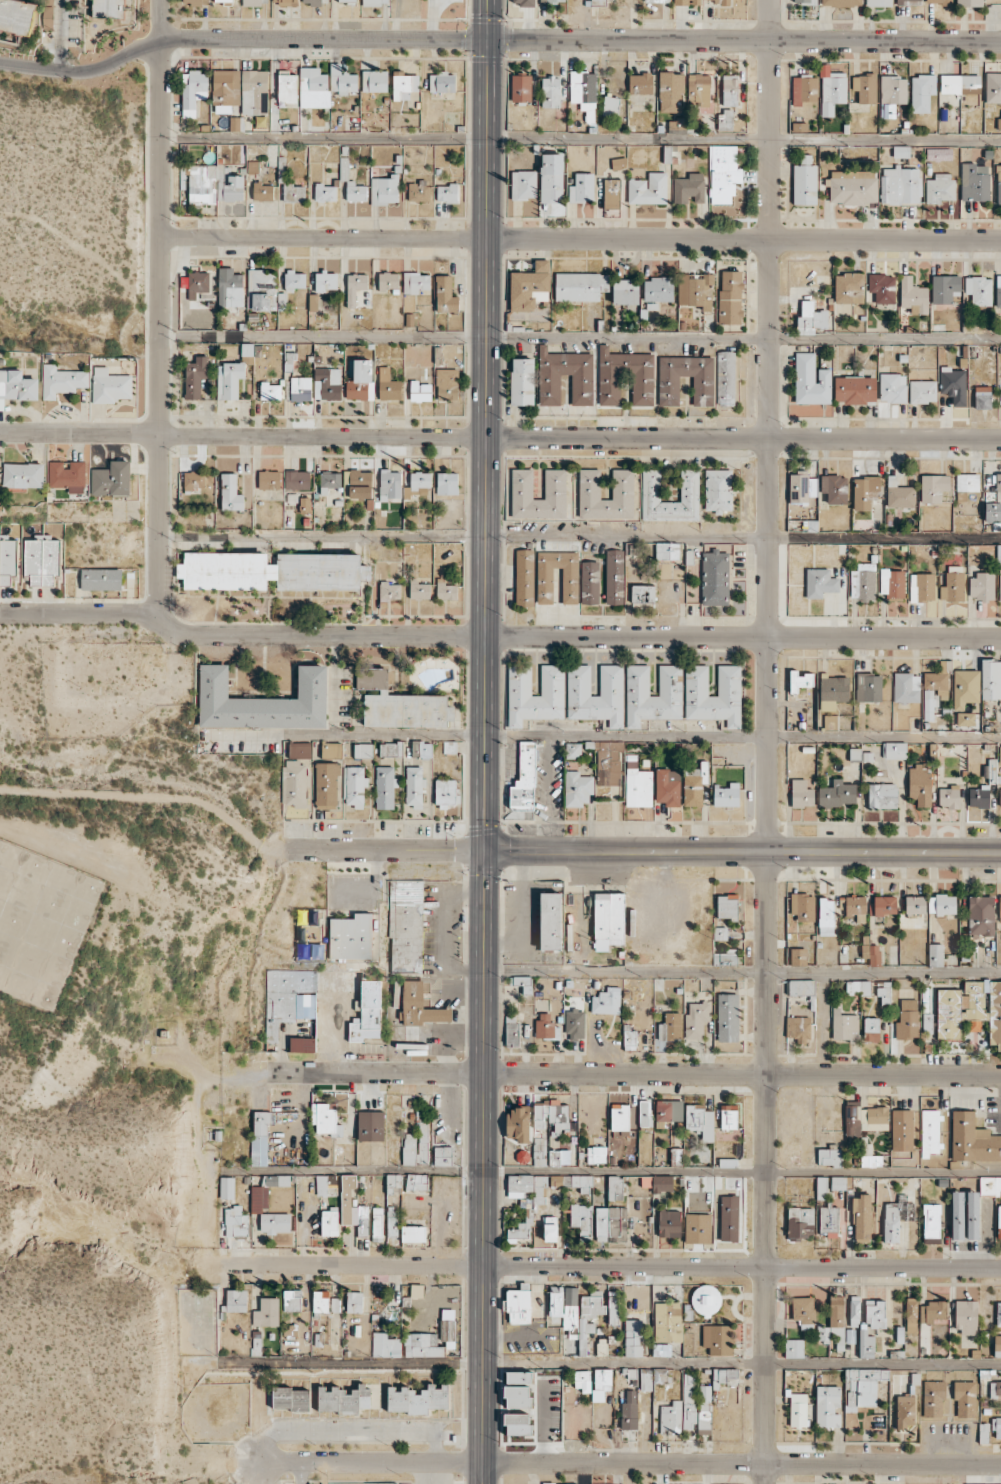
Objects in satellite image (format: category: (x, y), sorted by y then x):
building: (194, 1)
building: (223, 1)
building: (347, 1)
building: (552, 1)
building: (657, 1)
building: (718, 1)
building: (805, 1)
building: (939, 1)
building: (255, 2)
building: (285, 2)
building: (314, 2)
building: (375, 2)
building: (523, 2)
building: (598, 2)
building: (687, 2)
building: (841, 2)
building: (908, 2)
building: (878, 3)
building: (969, 3)
building: (109, 8)
building: (17, 16)
road: (489, 20)
road: (62, 35)
road: (240, 38)
road: (744, 40)
building: (342, 80)
building: (375, 81)
building: (442, 82)
building: (640, 83)
building: (960, 84)
building: (404, 85)
building: (993, 86)
building: (287, 87)
building: (313, 88)
building: (521, 88)
building: (865, 88)
building: (804, 89)
building: (225, 90)
building: (583, 90)
building: (730, 90)
building: (893, 90)
building: (193, 91)
building: (254, 92)
building: (551, 92)
building: (671, 92)
building: (699, 92)
building: (832, 92)
building: (922, 92)
building: (610, 106)
building: (725, 120)
building: (999, 123)
building: (236, 124)
road: (580, 140)
building: (619, 163)
building: (723, 174)
building: (551, 178)
building: (805, 181)
building: (974, 181)
building: (214, 184)
building: (523, 184)
building: (998, 184)
building: (901, 185)
building: (852, 187)
building: (582, 188)
building: (688, 188)
building: (940, 188)
building: (648, 189)
building: (385, 190)
building: (418, 191)
building: (262, 192)
building: (326, 192)
building: (356, 192)
building: (294, 193)
building: (447, 193)
building: (611, 193)
road: (578, 238)
building: (295, 280)
building: (388, 280)
building: (326, 281)
building: (197, 283)
building: (530, 286)
building: (580, 286)
building: (882, 287)
building: (230, 288)
building: (849, 288)
building: (945, 288)
building: (356, 289)
building: (658, 289)
building: (261, 290)
building: (695, 290)
building: (979, 290)
building: (625, 291)
building: (998, 291)
building: (445, 295)
building: (913, 296)
building: (730, 297)
road: (155, 306)
building: (811, 319)
road: (578, 337)
building: (246, 349)
building: (565, 363)
building: (195, 377)
building: (625, 377)
building: (726, 378)
building: (229, 379)
building: (811, 380)
building: (61, 381)
building: (361, 381)
building: (522, 381)
building: (327, 383)
building: (447, 384)
building: (388, 385)
building: (954, 385)
building: (17, 386)
building: (110, 386)
building: (300, 388)
building: (892, 388)
building: (854, 389)
building: (668, 390)
building: (271, 391)
building: (420, 391)
building: (922, 391)
building: (983, 397)
road: (500, 436)
building: (23, 475)
building: (67, 476)
building: (112, 479)
building: (269, 479)
building: (297, 480)
building: (420, 480)
building: (195, 481)
building: (330, 482)
building: (967, 482)
building: (447, 483)
building: (522, 483)
building: (360, 484)
building: (623, 484)
building: (390, 485)
building: (689, 485)
building: (998, 486)
building: (800, 487)
building: (834, 488)
building: (933, 488)
building: (718, 490)
building: (231, 492)
building: (865, 492)
building: (899, 494)
building: (993, 512)
road: (577, 540)
building: (668, 551)
building: (41, 561)
building: (272, 571)
building: (524, 577)
building: (614, 577)
building: (715, 578)
building: (101, 579)
building: (863, 581)
building: (590, 582)
building: (820, 582)
building: (892, 583)
building: (953, 584)
building: (544, 585)
building: (999, 585)
building: (981, 586)
building: (922, 587)
building: (419, 590)
building: (446, 590)
building: (389, 591)
building: (643, 593)
road: (497, 636)
building: (991, 679)
building: (800, 680)
building: (939, 680)
building: (868, 687)
building: (906, 687)
building: (965, 687)
building: (833, 691)
building: (263, 701)
building: (398, 704)
building: (929, 705)
building: (536, 706)
building: (595, 707)
building: (653, 707)
building: (713, 707)
building: (966, 718)
building: (830, 721)
road: (743, 737)
road: (766, 741)
building: (421, 748)
building: (390, 749)
building: (300, 750)
building: (331, 750)
building: (363, 750)
building: (573, 750)
building: (895, 750)
building: (1000, 754)
road: (485, 761)
building: (295, 784)
building: (694, 784)
building: (920, 784)
building: (327, 785)
building: (523, 785)
building: (637, 785)
building: (355, 786)
building: (414, 787)
building: (668, 787)
building: (384, 788)
building: (578, 789)
building: (445, 792)
building: (801, 794)
building: (838, 794)
building: (726, 795)
building: (883, 796)
building: (949, 796)
building: (979, 796)
building: (999, 797)
road: (147, 798)
road: (384, 849)
road: (742, 851)
building: (915, 904)
building: (942, 904)
building: (885, 905)
building: (802, 906)
building: (727, 907)
building: (856, 907)
building: (999, 909)
building: (981, 915)
building: (826, 917)
building: (608, 919)
building: (551, 921)
building: (406, 925)
building: (351, 937)
building: (871, 953)
building: (935, 955)
building: (798, 956)
building: (724, 958)
road: (743, 971)
building: (526, 984)
building: (801, 987)
building: (858, 987)
building: (884, 993)
building: (288, 998)
building: (607, 1001)
building: (419, 1009)
building: (970, 1009)
building: (368, 1012)
building: (728, 1017)
building: (696, 1020)
building: (907, 1020)
building: (927, 1023)
building: (575, 1024)
building: (546, 1026)
building: (670, 1027)
building: (845, 1027)
building: (798, 1028)
building: (871, 1029)
building: (511, 1031)
building: (630, 1039)
building: (302, 1044)
road: (600, 1074)
building: (669, 1110)
building: (645, 1113)
building: (551, 1115)
building: (729, 1116)
building: (619, 1117)
building: (323, 1118)
building: (877, 1118)
building: (700, 1121)
building: (518, 1124)
building: (371, 1126)
building: (853, 1127)
building: (902, 1130)
building: (930, 1132)
building: (260, 1136)
building: (972, 1139)
building: (416, 1145)
building: (539, 1151)
building: (596, 1154)
building: (442, 1156)
building: (559, 1157)
building: (829, 1157)
road: (611, 1171)
building: (276, 1180)
building: (560, 1180)
building: (393, 1181)
building: (416, 1181)
building: (840, 1182)
building: (662, 1183)
building: (990, 1184)
building: (326, 1185)
building: (227, 1187)
building: (528, 1187)
building: (615, 1188)
building: (821, 1188)
building: (259, 1198)
building: (348, 1200)
building: (529, 1214)
building: (957, 1215)
building: (973, 1215)
building: (897, 1217)
building: (729, 1218)
building: (861, 1218)
building: (362, 1220)
building: (582, 1220)
building: (392, 1221)
building: (828, 1221)
building: (999, 1221)
building: (235, 1222)
building: (275, 1222)
building: (800, 1222)
building: (329, 1223)
building: (669, 1223)
building: (377, 1224)
building: (601, 1224)
building: (617, 1224)
building: (550, 1228)
building: (698, 1228)
building: (413, 1234)
road: (591, 1266)
building: (417, 1290)
building: (236, 1300)
building: (292, 1300)
building: (706, 1300)
building: (325, 1302)
building: (354, 1302)
building: (519, 1304)
building: (565, 1307)
building: (613, 1308)
building: (803, 1311)
building: (854, 1311)
building: (267, 1312)
building: (932, 1312)
building: (875, 1314)
building: (998, 1314)
building: (911, 1315)
building: (966, 1316)
building: (668, 1322)
building: (835, 1322)
building: (448, 1327)
building: (850, 1336)
building: (633, 1337)
building: (718, 1339)
building: (385, 1345)
building: (422, 1345)
building: (866, 1345)
building: (602, 1346)
building: (997, 1346)
building: (794, 1348)
building: (661, 1349)
road: (591, 1366)
building: (725, 1374)
building: (660, 1375)
building: (519, 1377)
building: (645, 1379)
building: (582, 1380)
building: (601, 1383)
building: (862, 1387)
building: (995, 1388)
building: (517, 1396)
building: (933, 1398)
building: (291, 1399)
building: (343, 1399)
building: (417, 1399)
building: (965, 1399)
building: (688, 1401)
building: (828, 1406)
building: (704, 1409)
building: (798, 1410)
building: (629, 1411)
building: (905, 1411)
building: (671, 1418)
building: (518, 1424)
building: (996, 1427)
road: (351, 1436)
road: (630, 1463)
road: (300, 1473)
building: (996, 1483)

